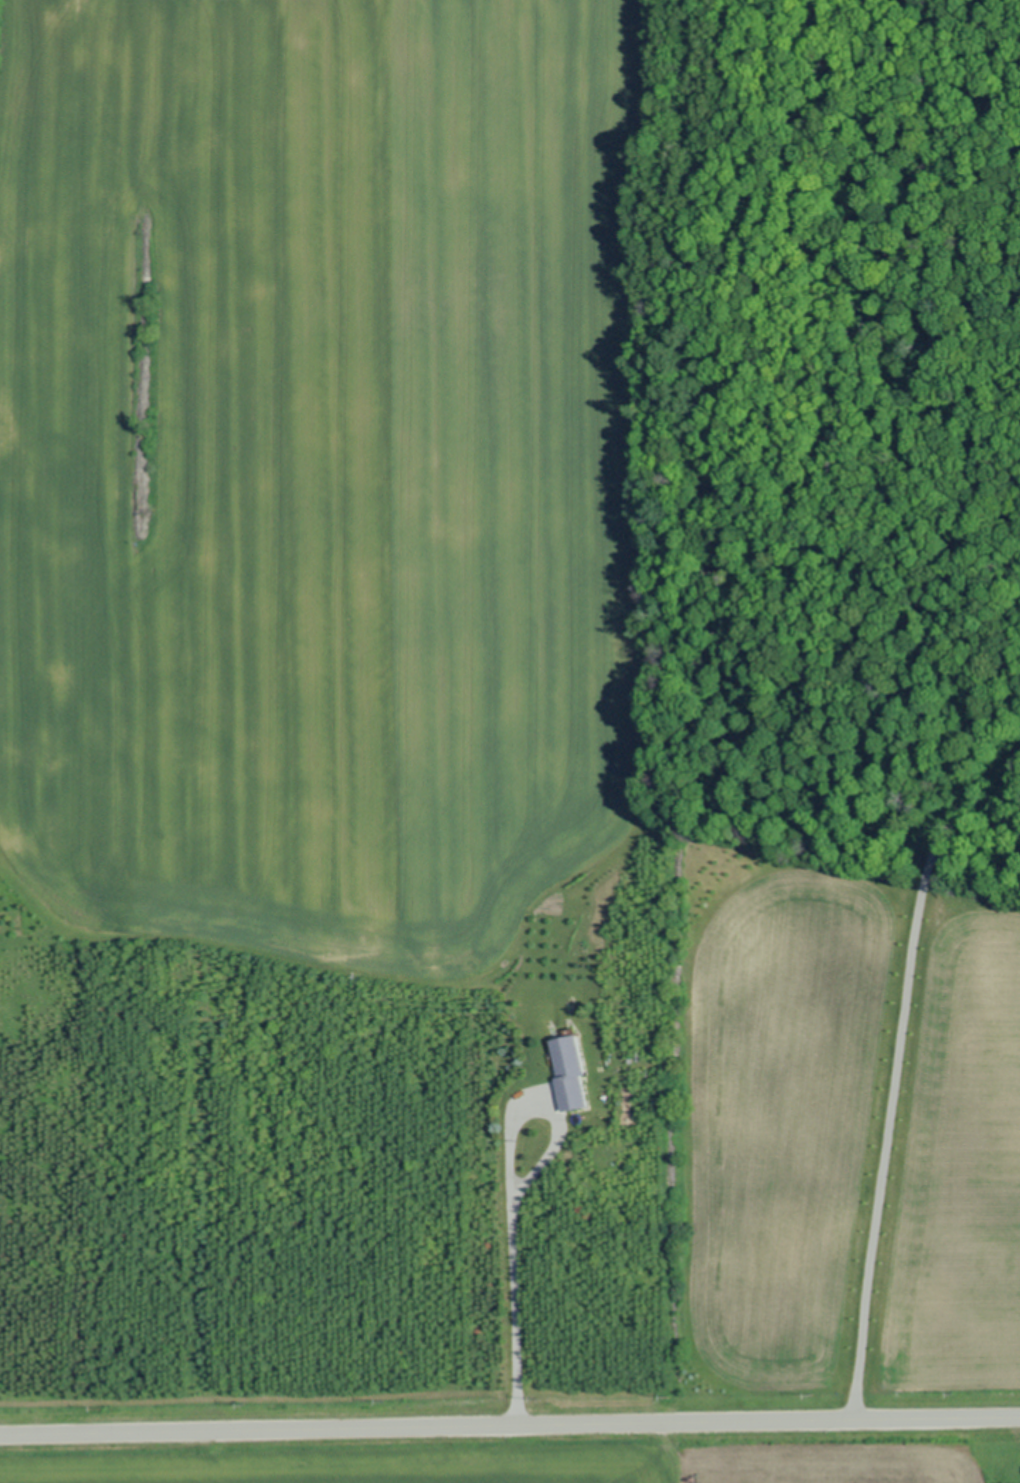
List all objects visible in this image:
building: (563, 1080)
road: (509, 1424)

